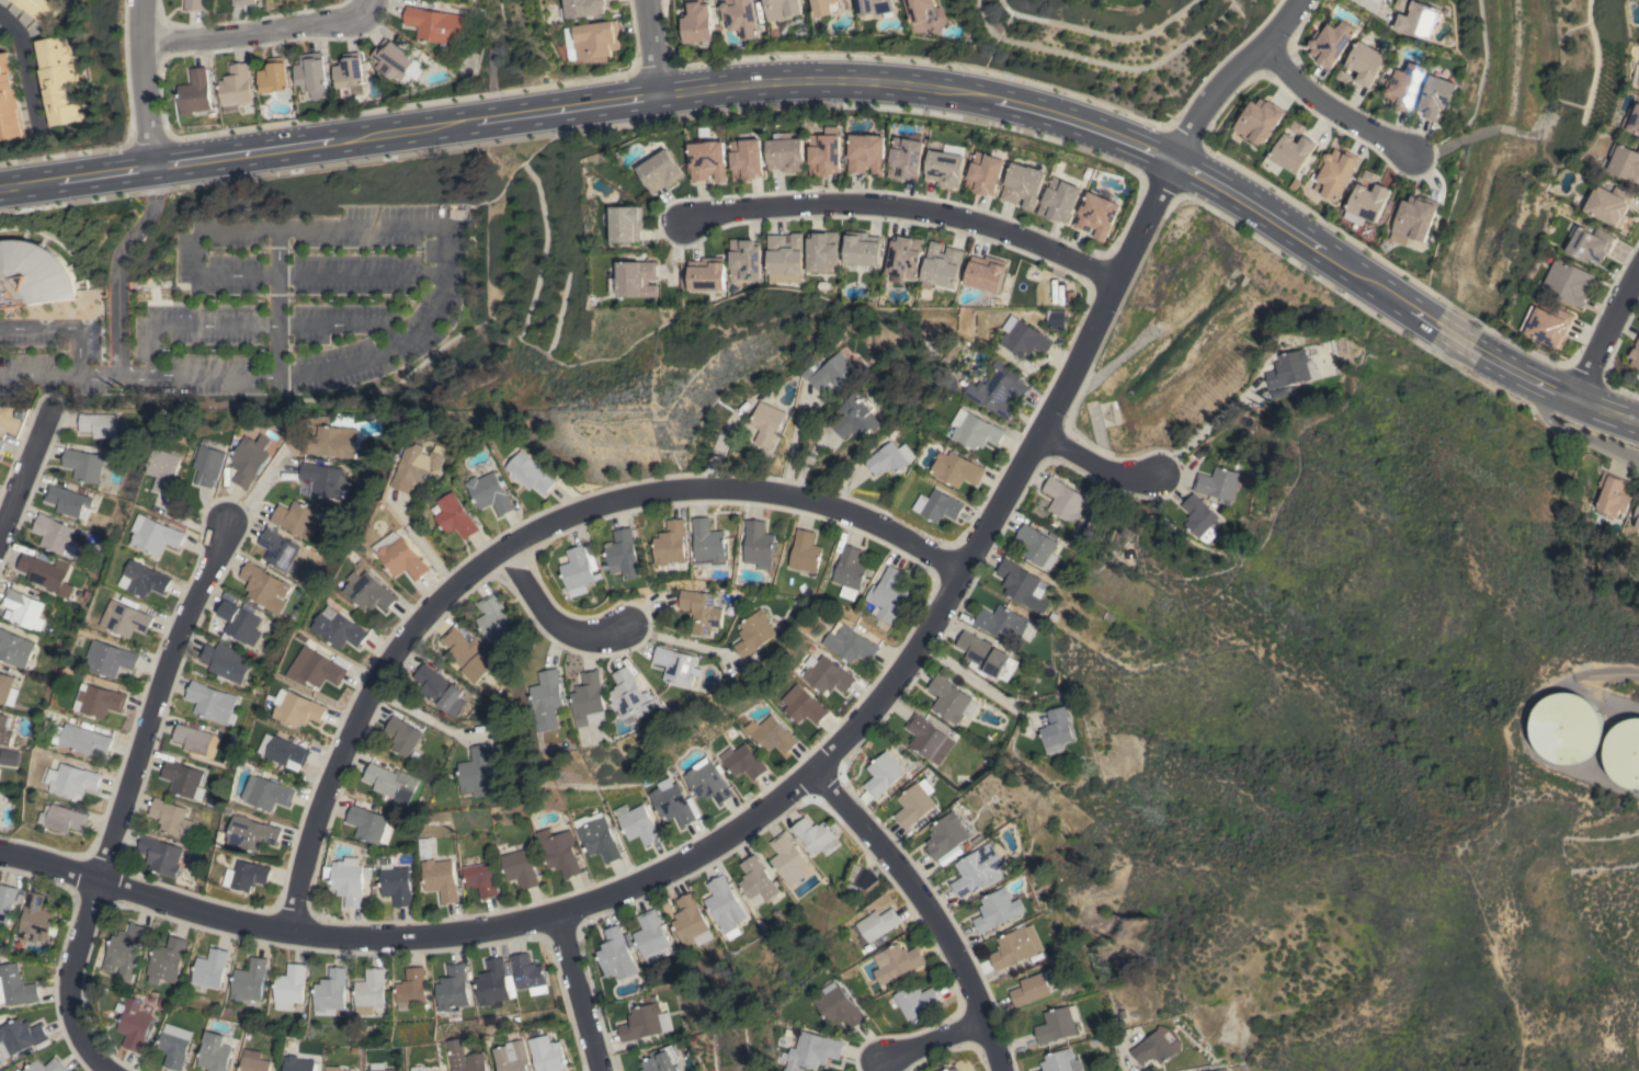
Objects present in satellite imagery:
building: (243, 2)
building: (193, 4)
building: (827, 7)
building: (875, 7)
building: (585, 8)
building: (39, 9)
building: (782, 9)
building: (922, 11)
building: (741, 18)
building: (1420, 20)
building: (697, 23)
building: (437, 25)
road: (263, 34)
building: (597, 39)
building: (1331, 43)
road: (650, 47)
building: (392, 59)
building: (1366, 62)
road: (26, 65)
building: (350, 75)
building: (311, 76)
building: (1637, 77)
building: (275, 78)
building: (57, 80)
road: (141, 82)
road: (856, 82)
building: (236, 87)
building: (1404, 88)
building: (195, 92)
building: (1437, 98)
building: (8, 103)
road: (1333, 110)
building: (1632, 117)
building: (1260, 121)
building: (1294, 151)
building: (785, 152)
building: (824, 152)
building: (866, 153)
building: (904, 158)
building: (747, 159)
building: (708, 160)
building: (1626, 162)
building: (946, 166)
building: (661, 170)
building: (986, 172)
building: (1335, 173)
building: (1023, 185)
building: (1059, 200)
building: (1367, 203)
building: (1609, 204)
road: (906, 207)
building: (1096, 215)
building: (1413, 219)
building: (626, 224)
road: (365, 228)
building: (1590, 244)
building: (862, 248)
building: (822, 252)
building: (785, 254)
building: (903, 258)
building: (744, 259)
road: (116, 265)
building: (942, 265)
building: (986, 273)
building: (32, 274)
building: (706, 274)
building: (634, 280)
building: (1568, 282)
parking lot: (304, 300)
road: (277, 301)
road: (255, 326)
building: (1549, 326)
road: (61, 328)
building: (1023, 338)
road: (1606, 338)
parking lot: (50, 354)
building: (1635, 354)
building: (1291, 369)
building: (834, 373)
road: (24, 376)
road: (81, 376)
road: (134, 376)
building: (998, 389)
road: (48, 390)
building: (1279, 392)
road: (1540, 413)
building: (855, 418)
building: (767, 423)
building: (99, 424)
road: (1203, 428)
building: (974, 430)
building: (330, 440)
building: (1, 444)
road: (792, 444)
road: (1604, 444)
building: (889, 458)
building: (250, 459)
road: (24, 464)
building: (209, 464)
road: (1093, 464)
building: (83, 465)
building: (420, 466)
building: (955, 469)
building: (166, 470)
building: (530, 472)
building: (323, 480)
building: (1219, 482)
road: (257, 488)
building: (489, 490)
road: (735, 492)
building: (1609, 494)
building: (69, 499)
building: (1065, 500)
building: (941, 506)
building: (1636, 515)
building: (456, 516)
building: (1198, 517)
building: (296, 519)
building: (54, 535)
building: (157, 535)
building: (671, 543)
building: (708, 543)
building: (759, 543)
building: (1037, 546)
building: (278, 549)
building: (806, 551)
building: (622, 555)
building: (401, 556)
building: (45, 571)
building: (578, 571)
building: (851, 571)
building: (147, 579)
building: (1021, 585)
building: (264, 586)
building: (369, 591)
building: (888, 594)
building: (22, 607)
building: (702, 611)
road: (554, 615)
building: (126, 618)
building: (493, 620)
building: (240, 623)
building: (1001, 623)
building: (339, 628)
building: (755, 633)
road: (681, 641)
building: (849, 643)
building: (15, 649)
building: (468, 654)
building: (984, 654)
building: (111, 659)
building: (225, 661)
building: (678, 665)
building: (318, 668)
road: (1616, 668)
building: (826, 674)
road: (966, 679)
building: (440, 690)
building: (8, 691)
building: (634, 696)
building: (549, 699)
building: (590, 699)
building: (99, 700)
building: (951, 700)
road: (152, 703)
building: (212, 703)
building: (298, 708)
building: (805, 708)
road: (358, 716)
building: (1056, 728)
building: (1564, 728)
building: (4, 732)
building: (402, 736)
building: (773, 736)
building: (929, 739)
building: (84, 740)
building: (195, 740)
building: (284, 750)
road: (829, 751)
building: (1624, 752)
building: (8, 757)
building: (742, 761)
building: (476, 770)
building: (883, 774)
building: (183, 779)
building: (72, 781)
building: (390, 782)
building: (706, 782)
building: (268, 793)
building: (671, 801)
building: (913, 805)
building: (171, 818)
building: (66, 819)
building: (367, 823)
building: (637, 823)
building: (251, 833)
building: (816, 836)
building: (946, 838)
building: (597, 839)
building: (559, 852)
building: (160, 855)
building: (786, 856)
building: (520, 868)
building: (978, 869)
building: (246, 875)
building: (479, 876)
building: (440, 879)
building: (756, 880)
building: (395, 881)
building: (348, 882)
building: (5, 901)
building: (724, 904)
road: (925, 907)
building: (997, 910)
building: (35, 920)
building: (690, 922)
building: (878, 923)
building: (650, 935)
building: (1015, 947)
building: (125, 952)
building: (615, 954)
building: (167, 959)
building: (900, 959)
building: (209, 968)
building: (526, 971)
road: (71, 979)
building: (249, 980)
building: (494, 983)
building: (14, 987)
building: (289, 987)
building: (452, 988)
building: (1032, 988)
building: (411, 990)
building: (369, 991)
building: (330, 992)
road: (574, 992)
building: (917, 1000)
building: (842, 1007)
building: (645, 1022)
building: (134, 1023)
building: (1056, 1025)
building: (19, 1036)
road: (933, 1045)
building: (1152, 1048)
building: (173, 1049)
building: (816, 1051)
building: (215, 1052)
building: (547, 1053)
building: (513, 1057)
building: (477, 1058)
building: (660, 1060)
building: (254, 1061)
building: (1061, 1061)
building: (299, 1063)
building: (46, 1066)
building: (382, 1067)
building: (334, 1068)
building: (422, 1068)
building: (353, 1069)
building: (16, 1070)
building: (952, 1070)

